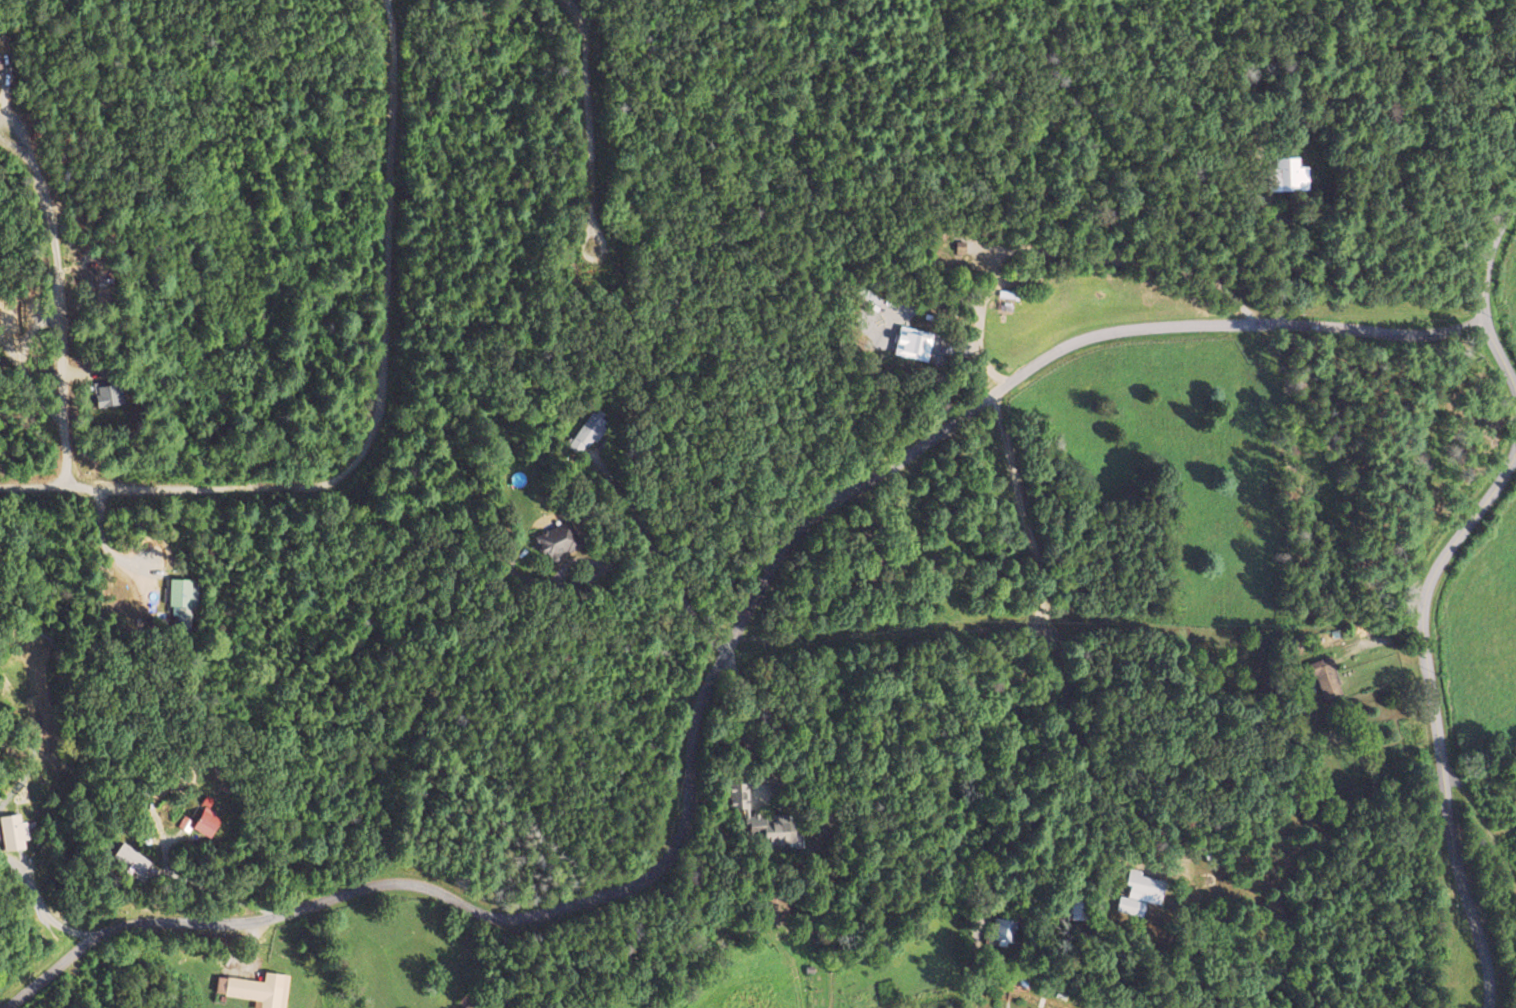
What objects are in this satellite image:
road: (583, 122)
building: (1296, 177)
road: (1483, 293)
road: (58, 299)
road: (373, 411)
building: (589, 430)
building: (557, 542)
road: (672, 592)
road: (715, 667)
building: (1327, 681)
road: (1435, 718)
building: (737, 796)
building: (207, 824)
building: (770, 829)
building: (14, 834)
building: (1141, 894)
building: (1002, 932)
building: (256, 990)
building: (473, 1000)

